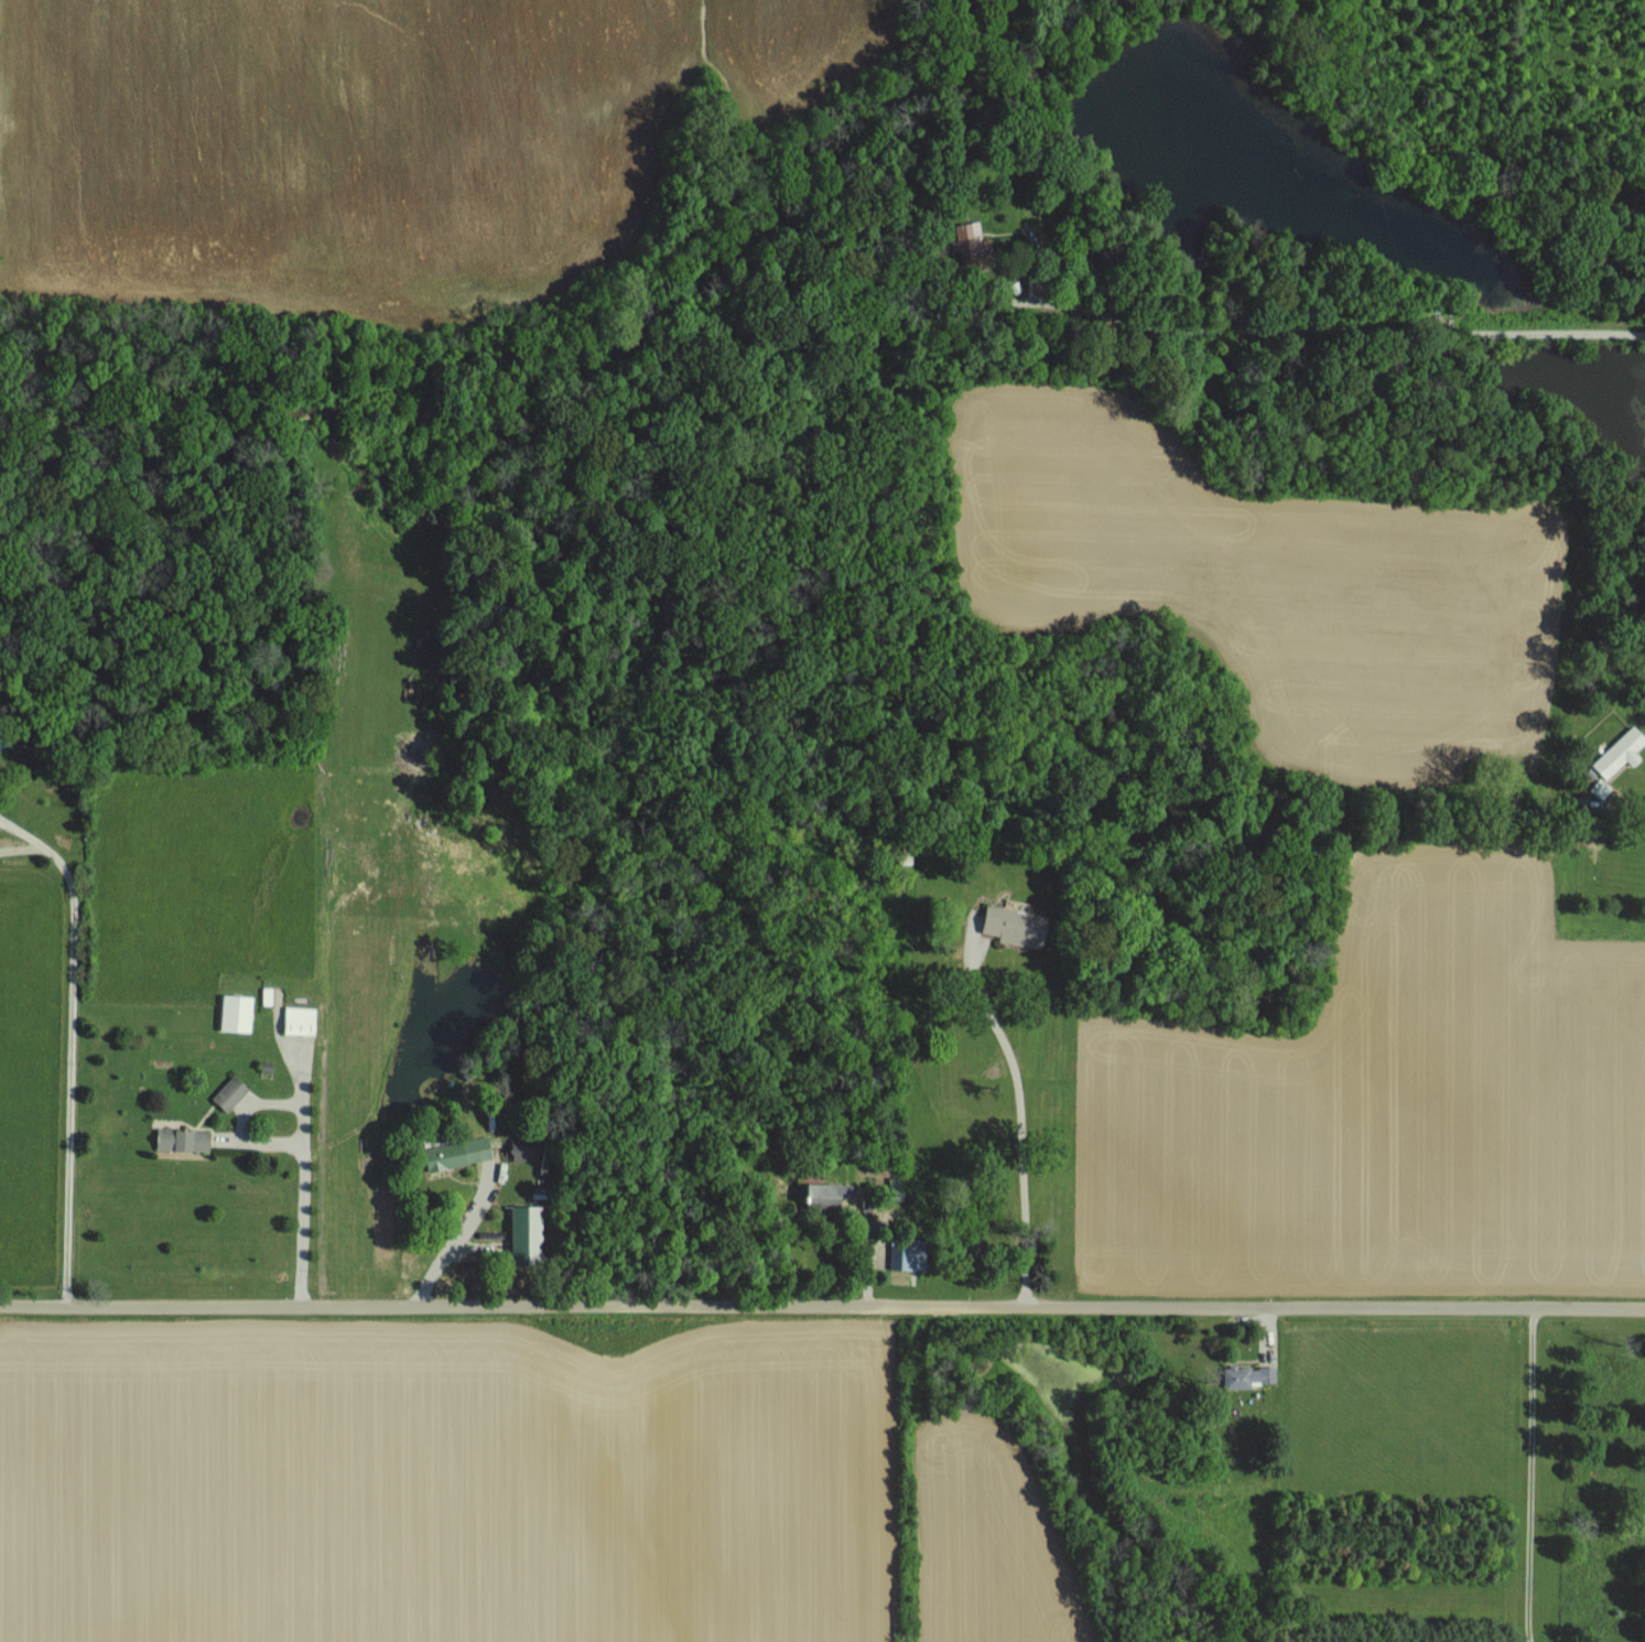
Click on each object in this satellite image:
road: (1115, 409)
road: (1557, 478)
building: (1616, 752)
road: (1616, 798)
building: (1017, 925)
building: (269, 994)
building: (239, 1012)
building: (303, 1018)
road: (71, 1051)
building: (232, 1091)
road: (1020, 1132)
road: (303, 1136)
building: (185, 1138)
building: (459, 1152)
building: (826, 1193)
building: (526, 1231)
building: (907, 1257)
road: (1240, 1310)
road: (416, 1321)
building: (1242, 1375)
road: (1528, 1472)

